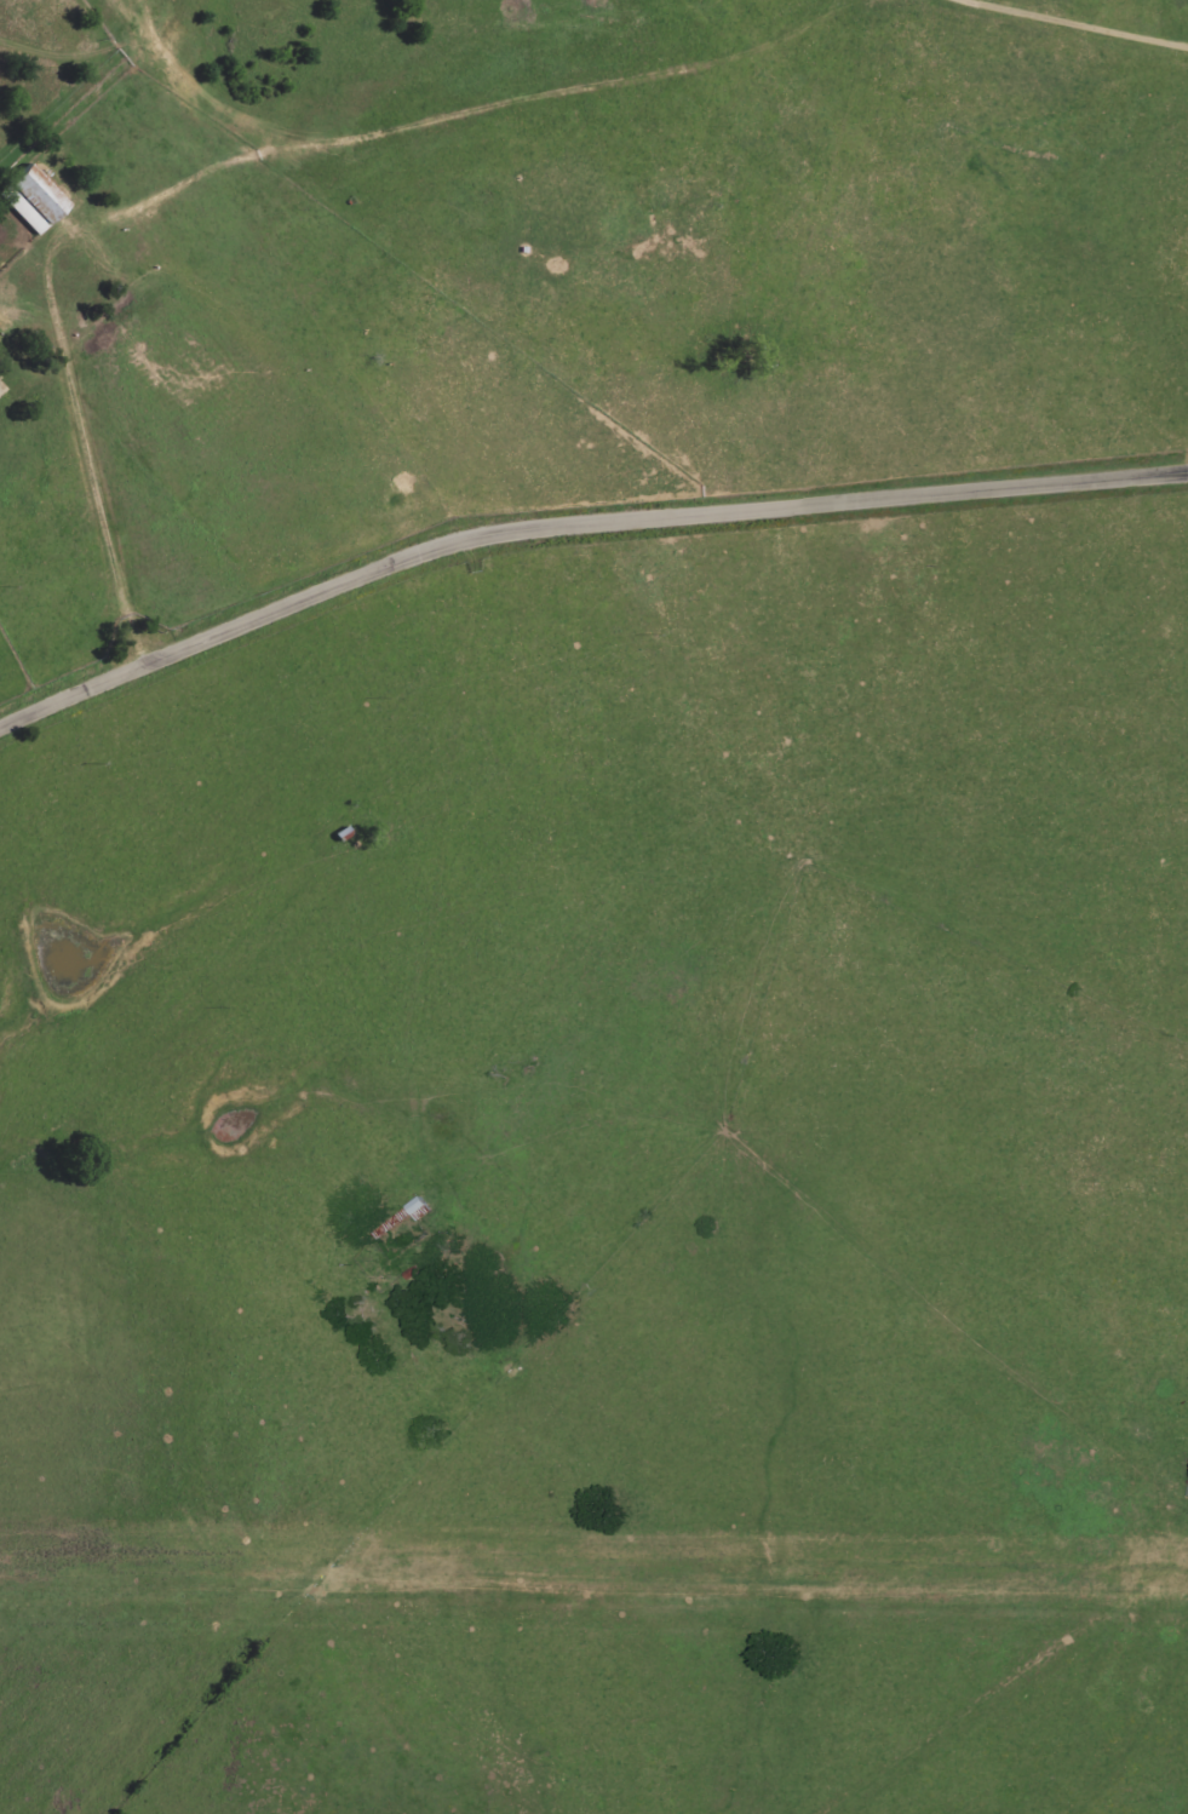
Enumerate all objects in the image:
building: (33, 199)
road: (85, 522)
road: (575, 528)

